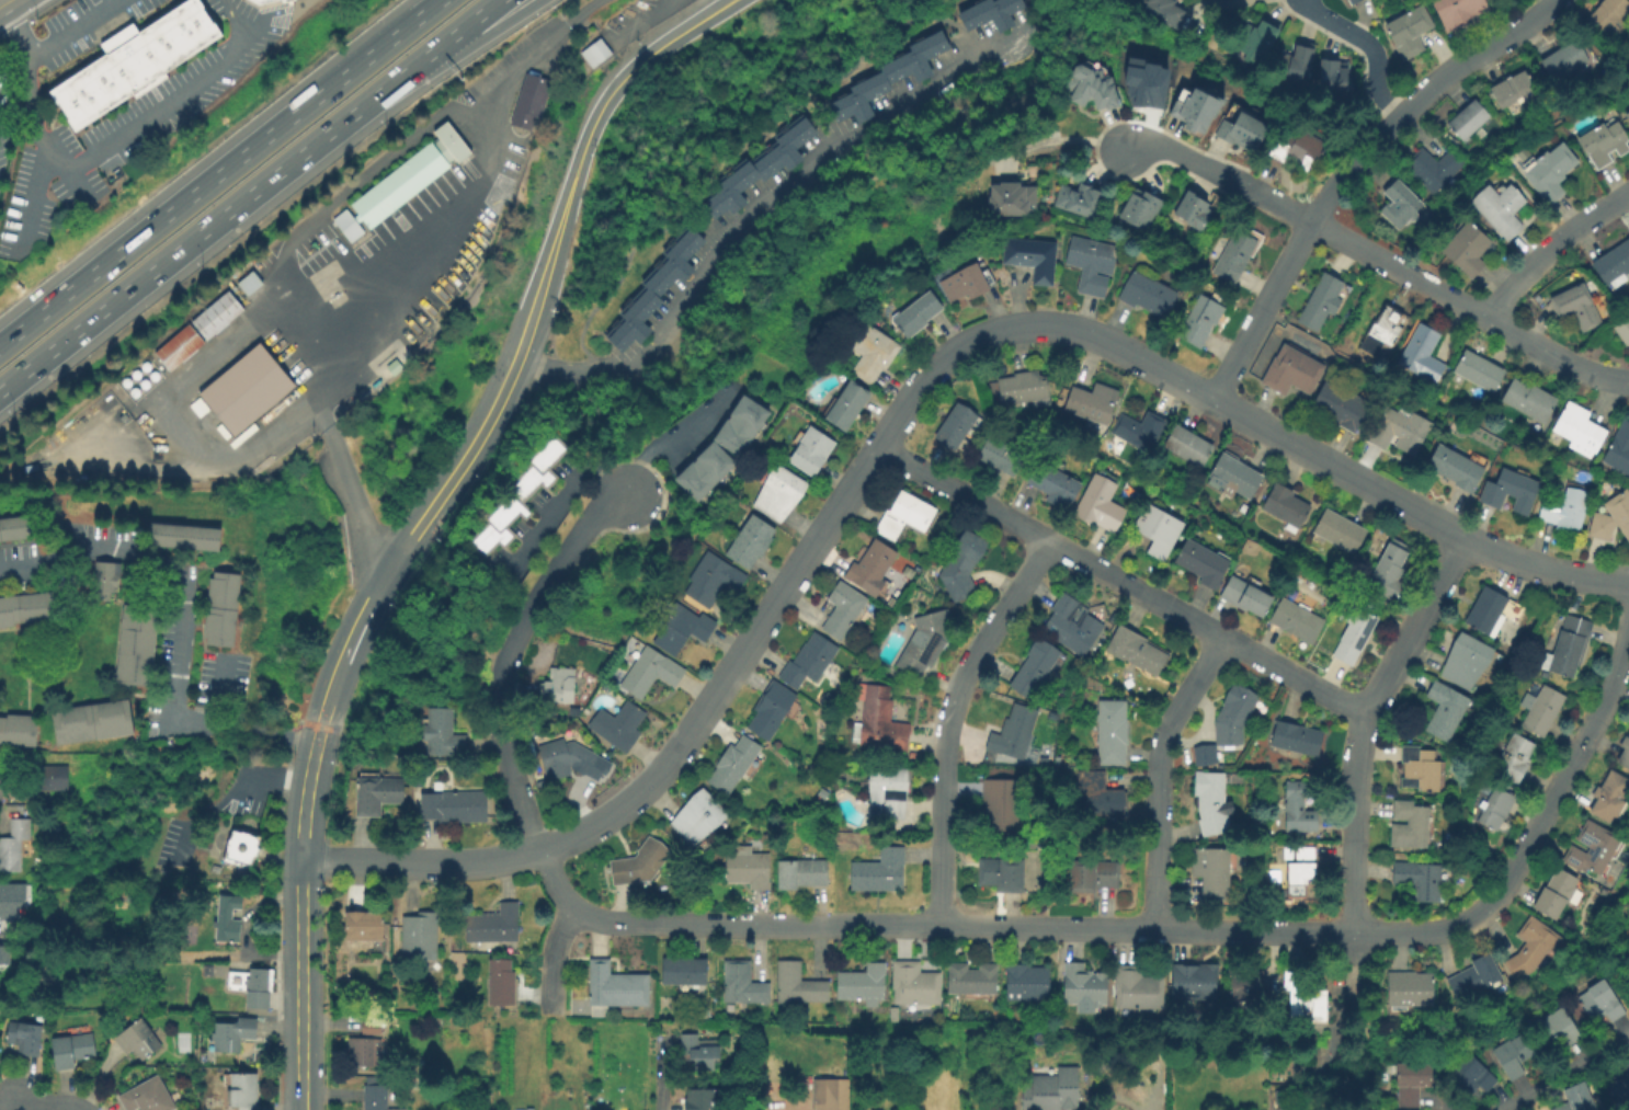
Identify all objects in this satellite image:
building: (258, 0)
road: (1208, 1)
building: (1349, 1)
building: (1355, 1)
building: (1462, 10)
building: (1166, 11)
building: (993, 13)
building: (1610, 15)
road: (68, 27)
building: (1412, 31)
building: (1257, 37)
road: (444, 44)
road: (1368, 44)
road: (468, 47)
building: (593, 52)
building: (132, 60)
building: (1568, 60)
building: (1297, 64)
building: (1335, 73)
building: (889, 79)
building: (1092, 81)
building: (1146, 82)
building: (1515, 88)
road: (172, 94)
building: (527, 100)
building: (1194, 103)
road: (27, 104)
building: (1626, 114)
building: (1472, 119)
building: (1244, 130)
building: (1606, 141)
building: (1299, 148)
road: (1181, 155)
building: (1432, 167)
building: (761, 170)
road: (1349, 170)
building: (1554, 171)
road: (221, 174)
building: (408, 175)
building: (1012, 194)
road: (29, 198)
building: (1081, 199)
road: (452, 205)
building: (1402, 205)
building: (1504, 207)
building: (1142, 208)
road: (751, 209)
building: (1195, 209)
building: (345, 226)
road: (194, 240)
road: (1552, 248)
building: (1470, 249)
building: (1235, 256)
building: (1034, 258)
building: (1093, 264)
building: (1615, 265)
building: (247, 282)
building: (969, 283)
road: (1433, 286)
building: (657, 290)
building: (1150, 295)
building: (1323, 302)
building: (1581, 305)
building: (920, 313)
building: (214, 314)
building: (1200, 320)
building: (1625, 329)
building: (1386, 332)
road: (524, 340)
building: (175, 346)
building: (872, 353)
building: (1424, 354)
building: (1294, 370)
building: (1481, 371)
building: (1025, 387)
building: (243, 388)
building: (1531, 400)
building: (1094, 403)
building: (848, 405)
building: (1343, 407)
building: (738, 424)
building: (960, 426)
building: (1582, 427)
building: (1141, 431)
building: (1402, 431)
road: (671, 436)
building: (1191, 445)
building: (813, 451)
building: (1620, 451)
building: (1002, 456)
building: (1459, 468)
building: (702, 470)
building: (1235, 473)
building: (1055, 482)
road: (567, 484)
building: (1512, 490)
building: (519, 493)
building: (781, 494)
building: (1102, 502)
road: (354, 505)
building: (1287, 505)
road: (1413, 511)
building: (1567, 512)
building: (907, 515)
building: (1613, 517)
road: (590, 520)
building: (744, 520)
building: (20, 529)
building: (1161, 530)
building: (1342, 530)
building: (187, 537)
building: (752, 542)
building: (1201, 562)
building: (873, 565)
building: (962, 565)
building: (1392, 571)
building: (102, 577)
building: (715, 580)
road: (1120, 581)
building: (1245, 595)
road: (775, 602)
building: (29, 609)
building: (844, 609)
building: (224, 611)
building: (1494, 611)
building: (1296, 619)
road: (178, 623)
building: (1073, 626)
building: (684, 629)
building: (1356, 638)
building: (925, 642)
building: (1571, 644)
building: (138, 645)
building: (1137, 650)
building: (810, 661)
building: (1468, 661)
building: (1036, 667)
building: (651, 672)
building: (560, 686)
road: (217, 688)
building: (1529, 699)
building: (772, 710)
building: (1447, 711)
building: (1545, 711)
building: (1234, 713)
road: (324, 720)
road: (948, 720)
building: (94, 723)
building: (618, 728)
building: (879, 728)
building: (19, 732)
building: (1015, 732)
building: (1114, 732)
building: (443, 735)
road: (501, 736)
road: (1357, 737)
building: (1297, 739)
building: (1626, 753)
building: (1206, 756)
building: (566, 757)
building: (1516, 758)
building: (736, 764)
building: (1423, 769)
road: (1158, 775)
building: (41, 782)
building: (890, 791)
road: (308, 794)
building: (1102, 794)
building: (377, 797)
building: (1610, 798)
building: (1211, 803)
road: (231, 805)
building: (1004, 806)
building: (1301, 806)
building: (454, 808)
building: (1497, 808)
road: (1548, 808)
building: (700, 817)
building: (1411, 826)
building: (14, 845)
building: (239, 845)
building: (1595, 849)
building: (640, 866)
building: (749, 869)
building: (1215, 870)
building: (1301, 870)
building: (880, 872)
building: (802, 874)
building: (1003, 874)
building: (1096, 874)
building: (1420, 878)
building: (1559, 895)
building: (11, 900)
building: (228, 919)
building: (495, 926)
road: (993, 926)
building: (365, 928)
building: (1627, 929)
building: (420, 938)
building: (1535, 948)
building: (5, 957)
road: (1615, 959)
road: (551, 963)
building: (685, 972)
building: (1477, 976)
building: (972, 980)
building: (1195, 980)
building: (1026, 982)
building: (502, 983)
building: (864, 983)
building: (254, 984)
road: (301, 984)
building: (744, 984)
building: (914, 984)
building: (1248, 984)
building: (799, 985)
building: (1085, 986)
building: (616, 988)
building: (1139, 988)
building: (1412, 988)
building: (1306, 996)
road: (1360, 999)
building: (1600, 1003)
road: (1523, 1007)
building: (1559, 1027)
building: (372, 1028)
building: (235, 1034)
building: (26, 1035)
building: (139, 1040)
building: (72, 1051)
building: (702, 1052)
building: (366, 1054)
building: (1515, 1056)
building: (1628, 1065)
road: (1567, 1073)
road: (656, 1074)
building: (1471, 1075)
building: (1412, 1083)
building: (828, 1090)
building: (1052, 1090)
building: (242, 1091)
building: (1622, 1091)
building: (148, 1097)
building: (374, 1098)
building: (1579, 1098)
building: (702, 1100)
road: (42, 1106)

